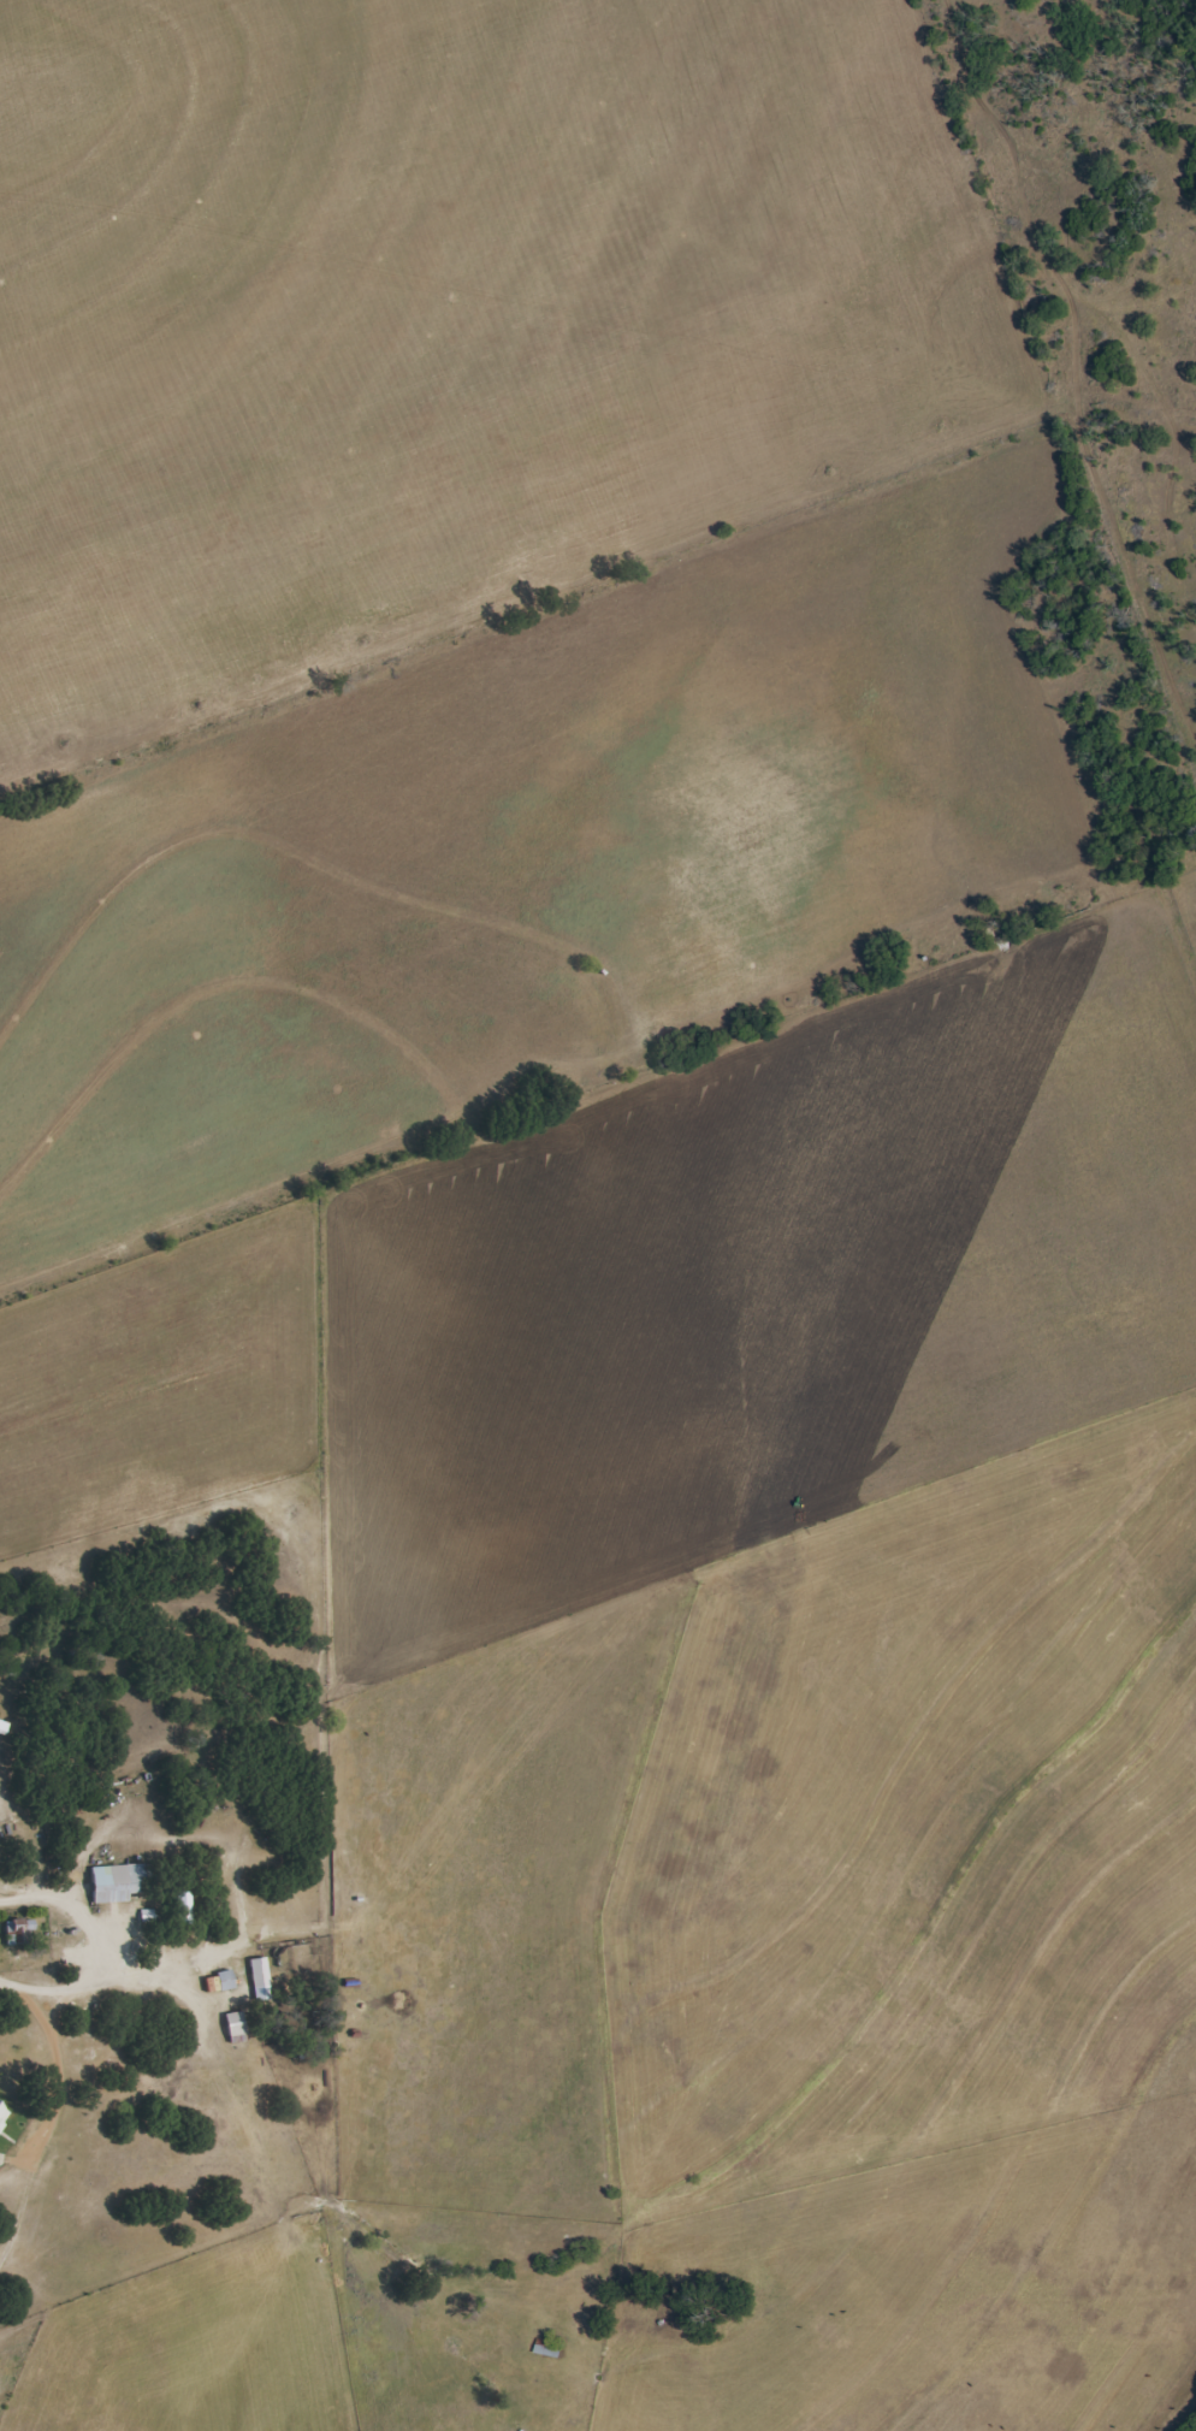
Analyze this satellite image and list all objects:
building: (114, 1881)
building: (17, 1930)
building: (257, 1977)
road: (8, 2013)
building: (232, 2025)
building: (1, 2114)
building: (546, 2347)

